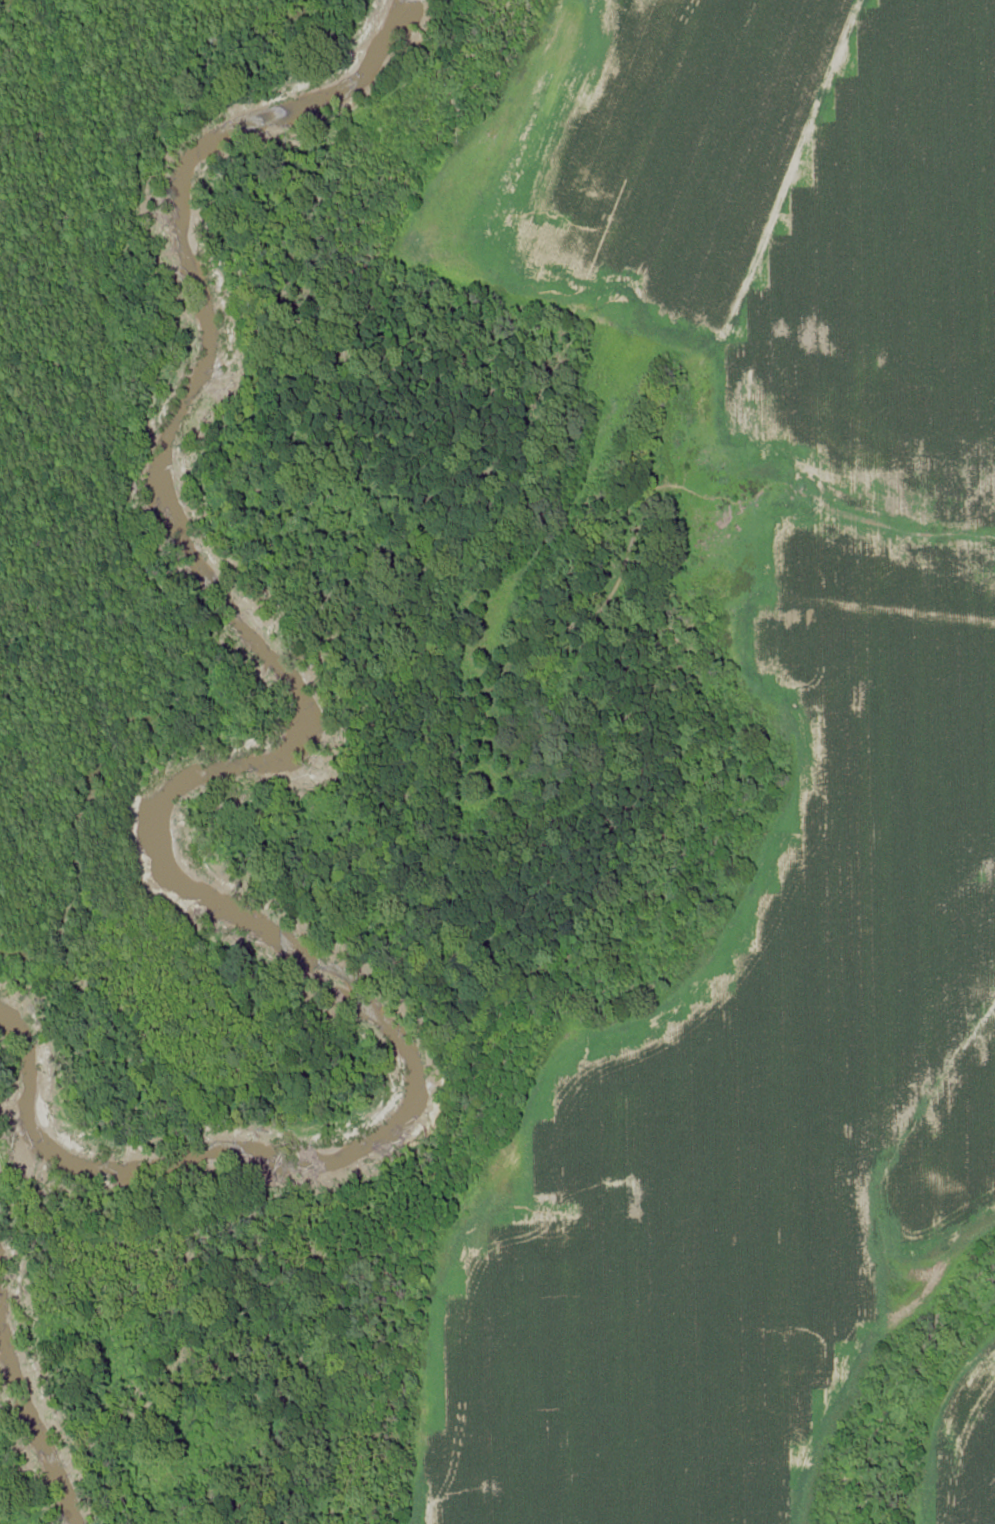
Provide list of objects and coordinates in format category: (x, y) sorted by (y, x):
river: (186, 766)
river: (34, 1440)

